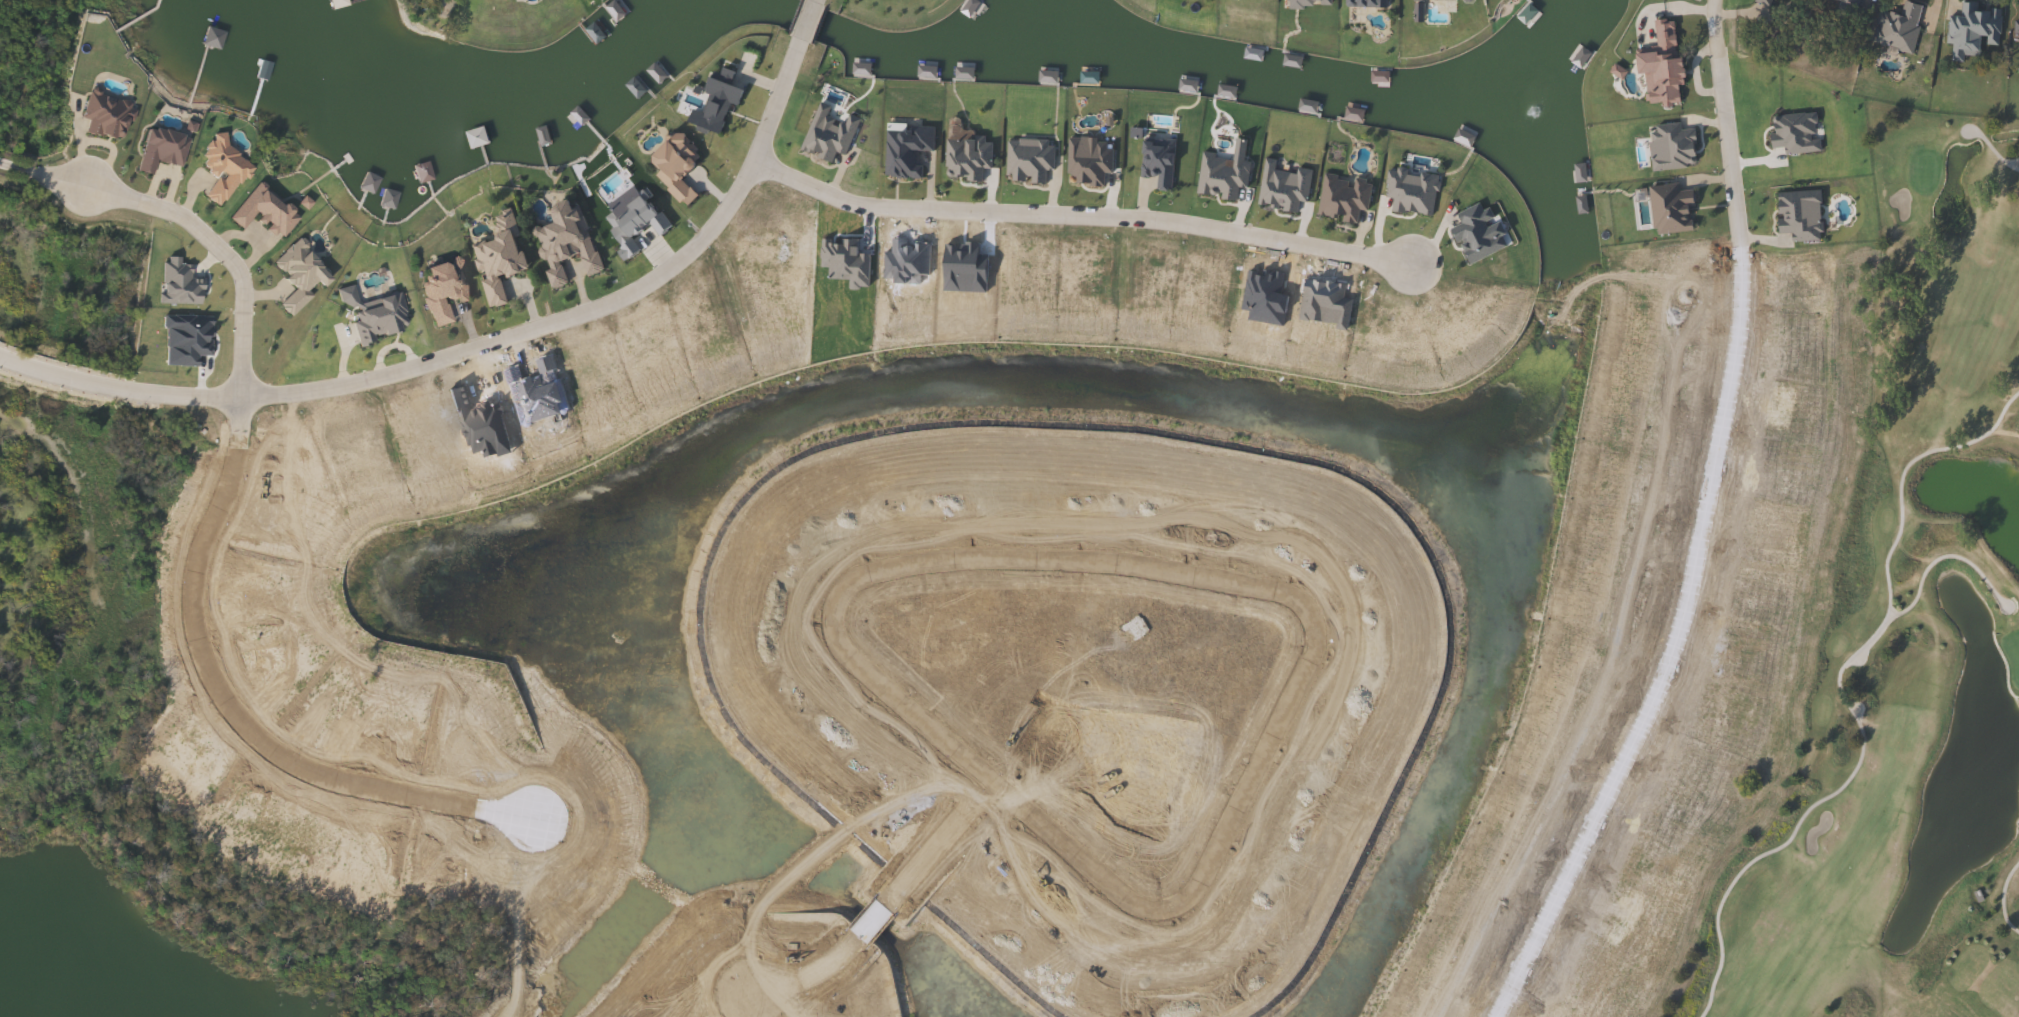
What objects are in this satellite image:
building: (1418, 0)
road: (814, 1)
building: (1766, 2)
building: (1845, 2)
building: (337, 3)
building: (1305, 3)
building: (1362, 3)
road: (805, 23)
building: (1894, 26)
building: (2016, 26)
building: (1969, 29)
building: (1658, 68)
building: (1794, 133)
building: (476, 138)
building: (163, 146)
building: (1672, 150)
road: (2014, 165)
building: (668, 166)
building: (1668, 208)
road: (189, 216)
road: (1075, 216)
building: (1797, 217)
building: (1735, 231)
building: (561, 240)
building: (500, 256)
building: (444, 288)
road: (468, 348)
road: (1718, 452)
road: (1899, 500)
road: (1228, 582)
road: (1946, 635)
road: (1837, 675)
road: (229, 707)
road: (1761, 855)
road: (2001, 898)
road: (878, 915)
road: (1532, 948)

